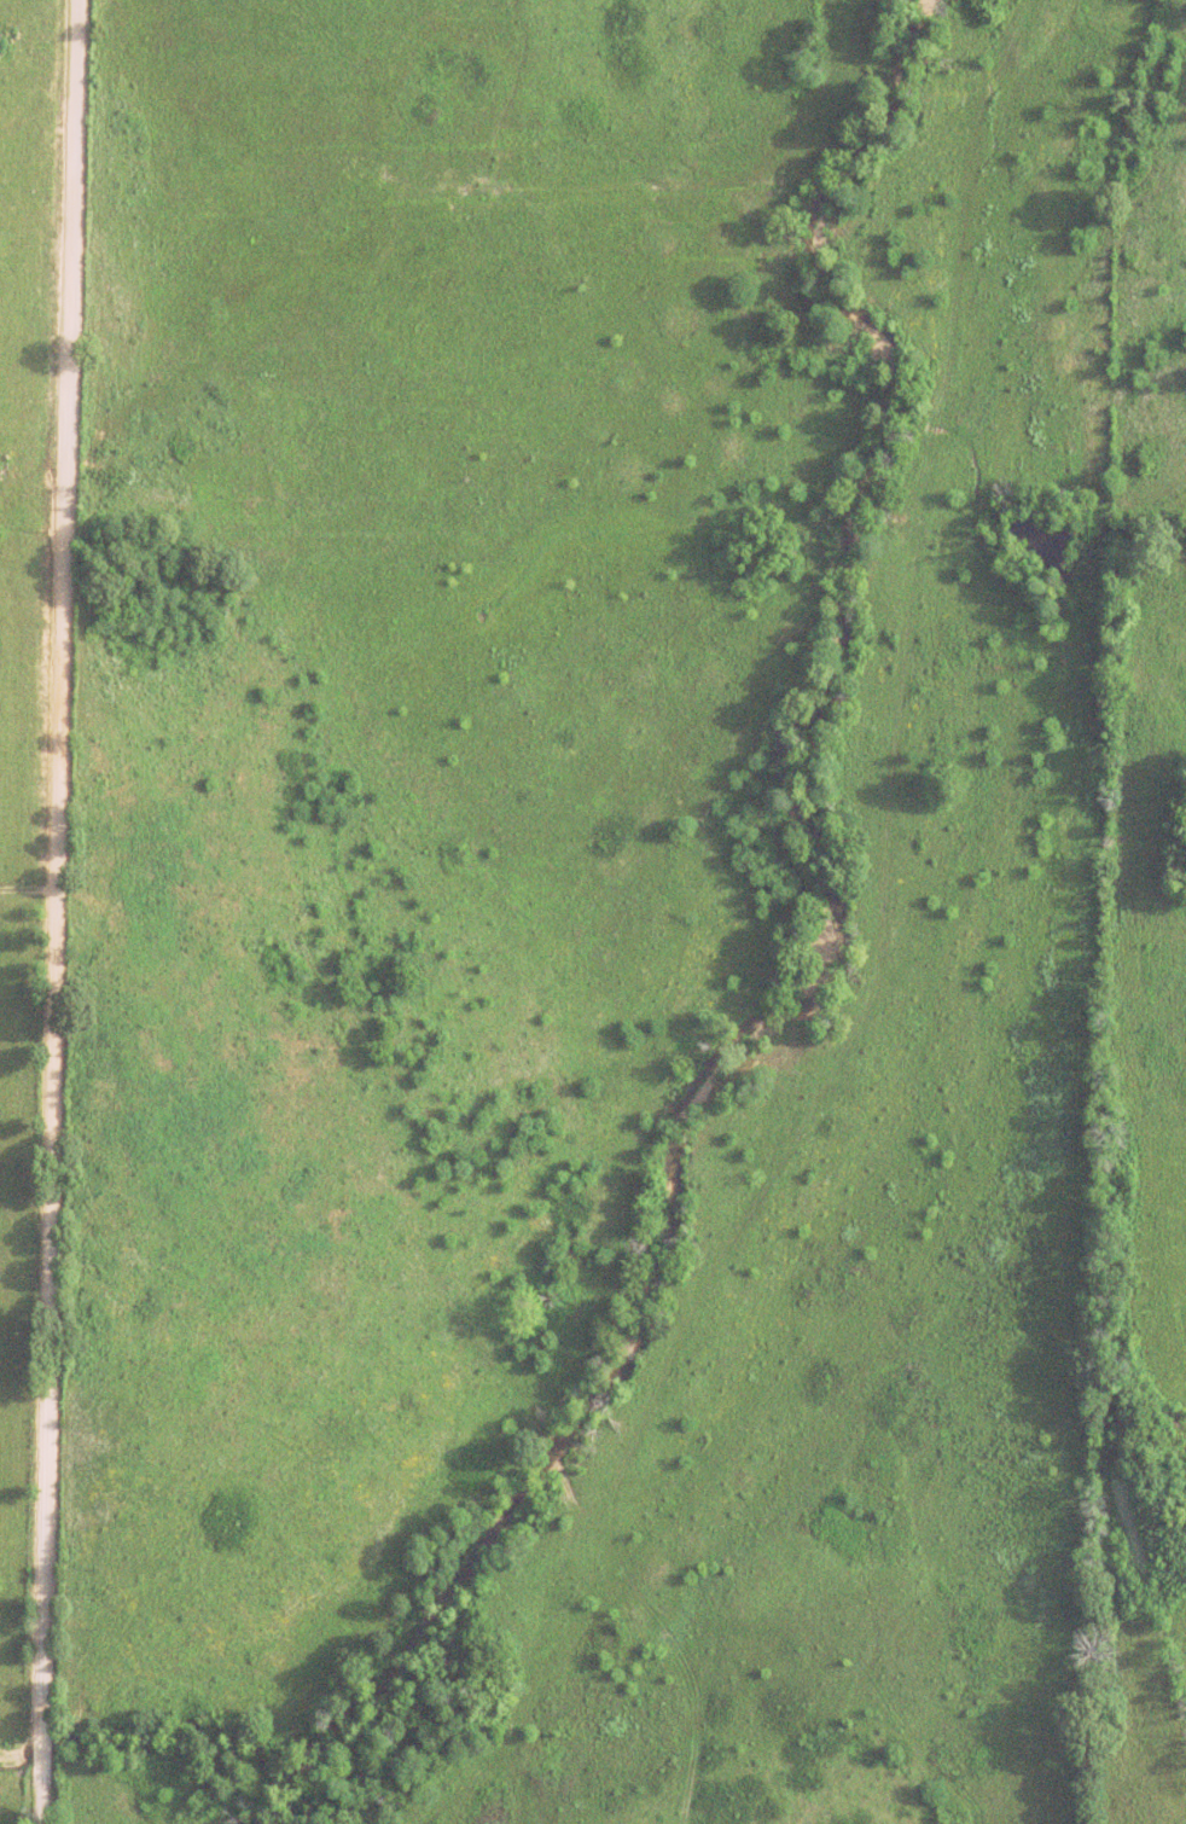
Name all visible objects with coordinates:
road: (54, 911)

